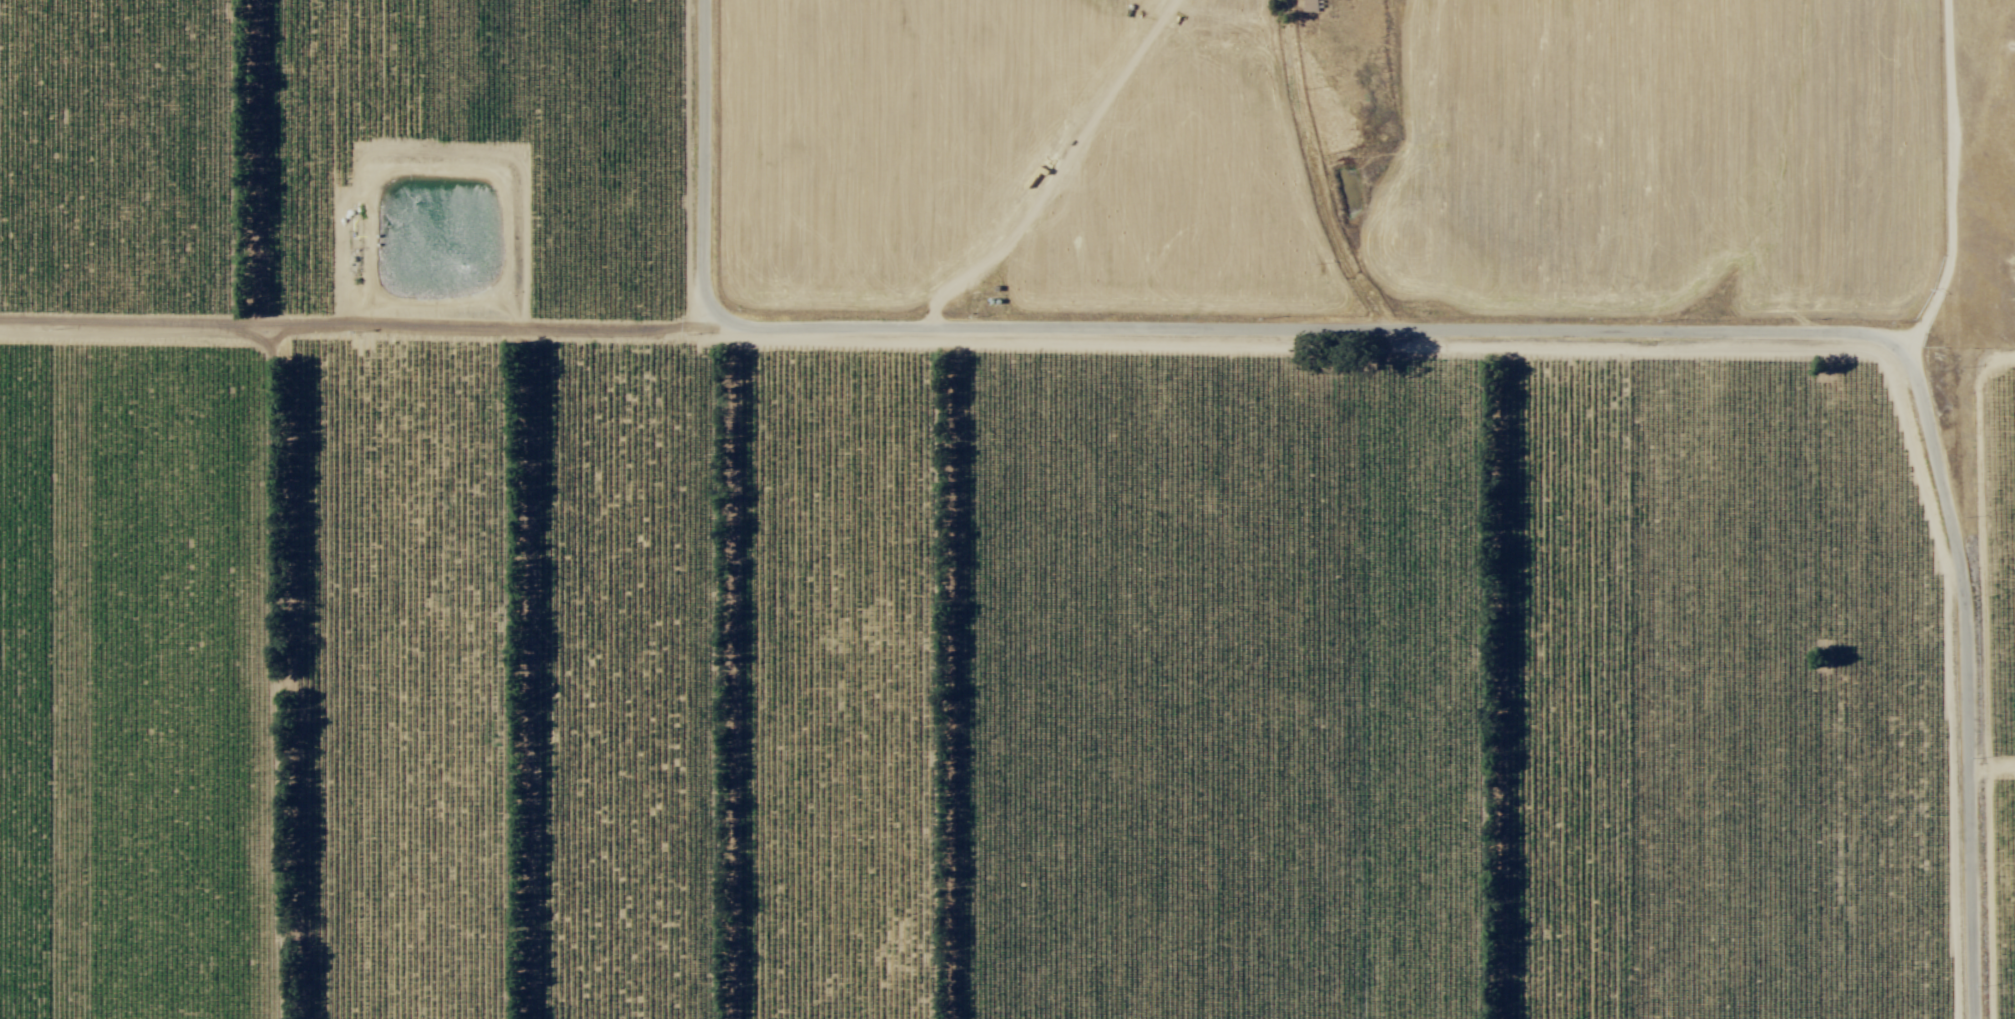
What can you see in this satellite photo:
building: (1313, 6)
road: (706, 164)
road: (1952, 182)
wastewater plant: (437, 247)
road: (359, 329)
road: (1648, 339)
crop: (907, 607)
road: (284, 674)

